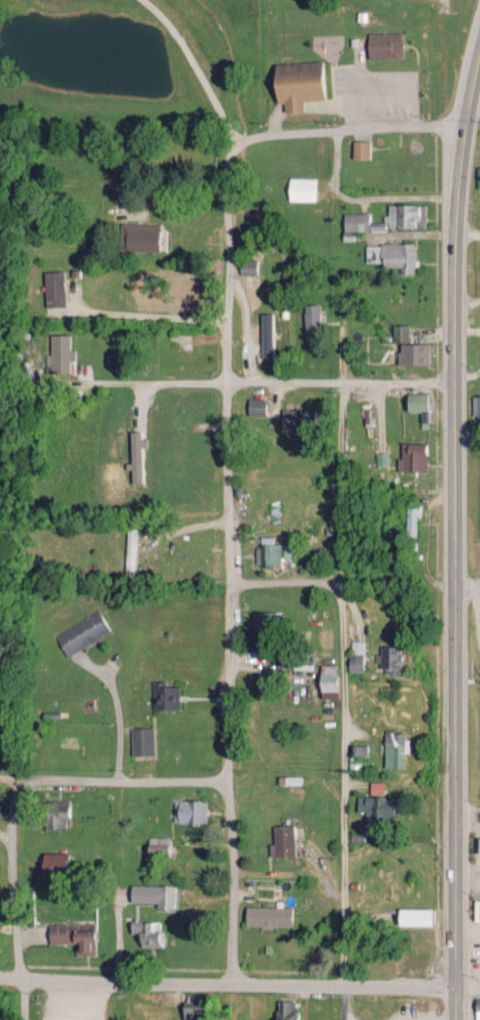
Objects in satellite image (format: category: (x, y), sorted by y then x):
building: (389, 49)
building: (299, 83)
building: (397, 139)
building: (361, 151)
building: (403, 159)
building: (477, 177)
building: (302, 190)
building: (403, 215)
building: (352, 223)
building: (140, 236)
building: (392, 255)
building: (246, 266)
building: (53, 288)
building: (182, 294)
building: (310, 319)
building: (398, 333)
building: (266, 339)
building: (58, 354)
building: (411, 354)
road: (338, 383)
building: (414, 401)
building: (255, 406)
building: (475, 406)
building: (296, 418)
road: (227, 449)
building: (135, 457)
building: (410, 457)
building: (380, 458)
building: (412, 520)
road: (454, 537)
building: (266, 552)
road: (285, 585)
road: (467, 585)
building: (81, 632)
building: (355, 658)
building: (387, 659)
building: (327, 681)
road: (341, 685)
building: (163, 696)
road: (115, 714)
building: (140, 741)
building: (393, 748)
building: (357, 750)
road: (12, 780)
road: (124, 782)
building: (376, 787)
building: (375, 806)
building: (188, 812)
building: (55, 814)
building: (281, 841)
building: (156, 844)
building: (477, 845)
building: (51, 863)
building: (152, 895)
road: (13, 902)
building: (476, 911)
building: (266, 916)
building: (412, 917)
building: (146, 933)
road: (227, 983)
road: (468, 989)
road: (99, 1000)
road: (344, 1003)
building: (476, 1009)
building: (191, 1010)
building: (285, 1010)

